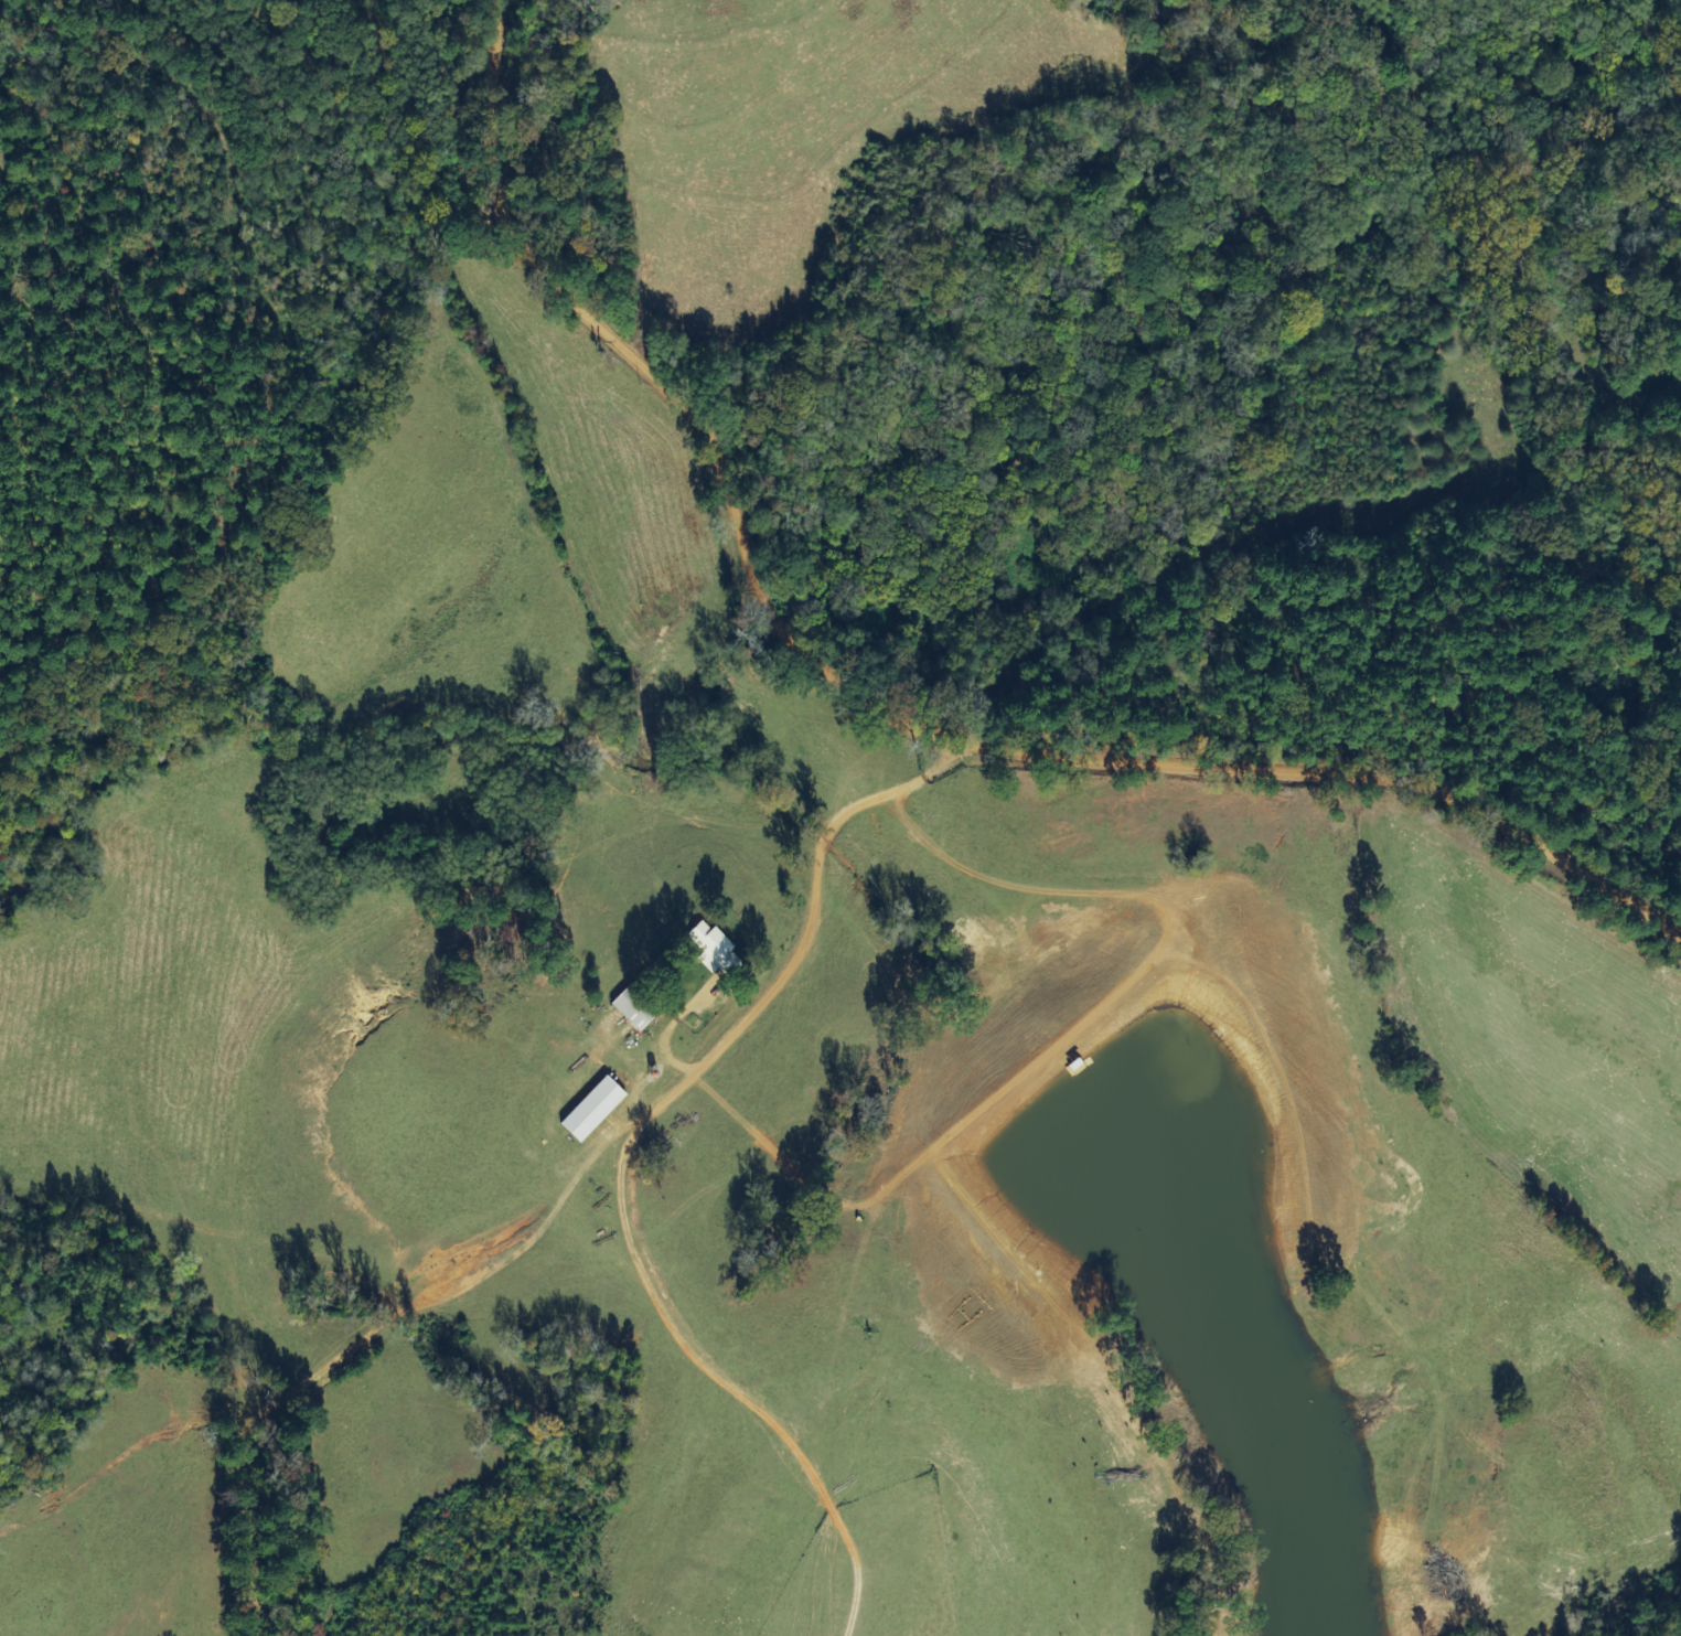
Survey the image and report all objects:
road: (523, 34)
road: (867, 720)
building: (711, 950)
building: (631, 1008)
building: (590, 1110)
road: (540, 1195)

